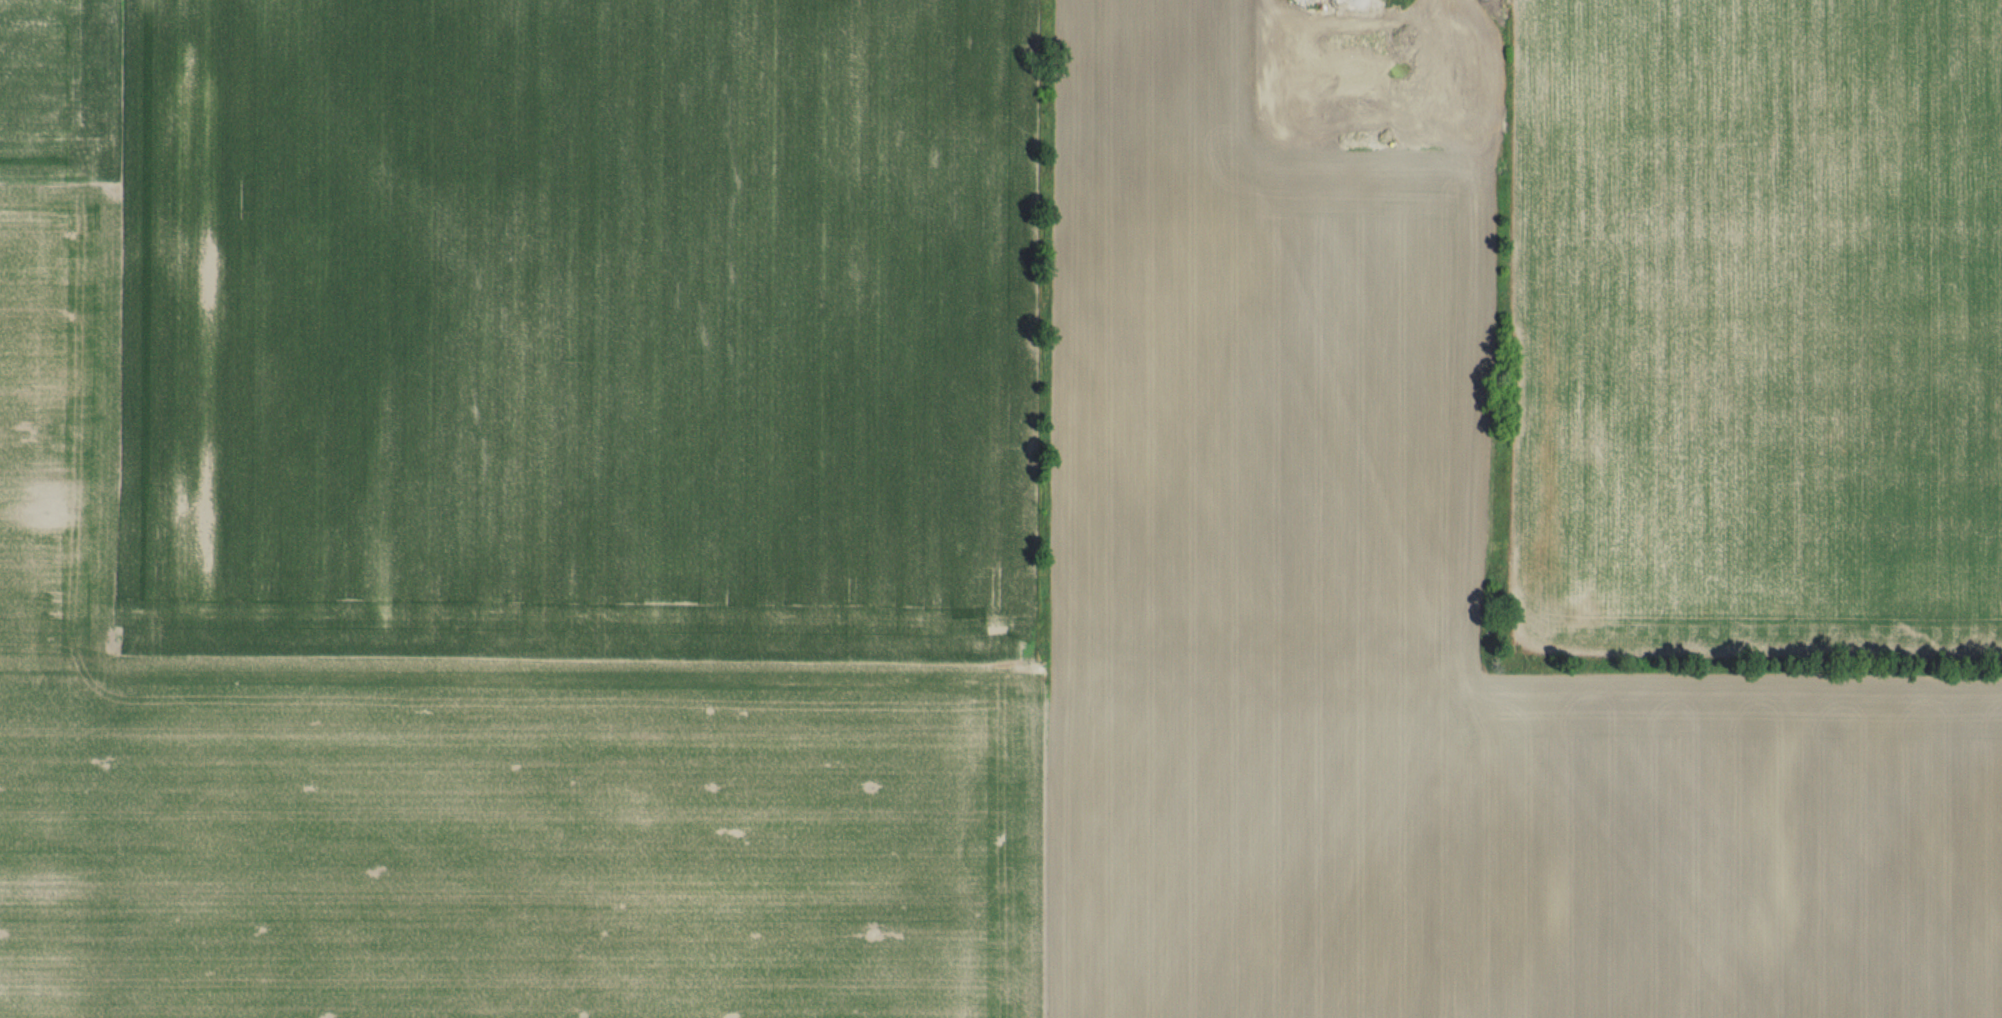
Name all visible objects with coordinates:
building: (1297, 4)

